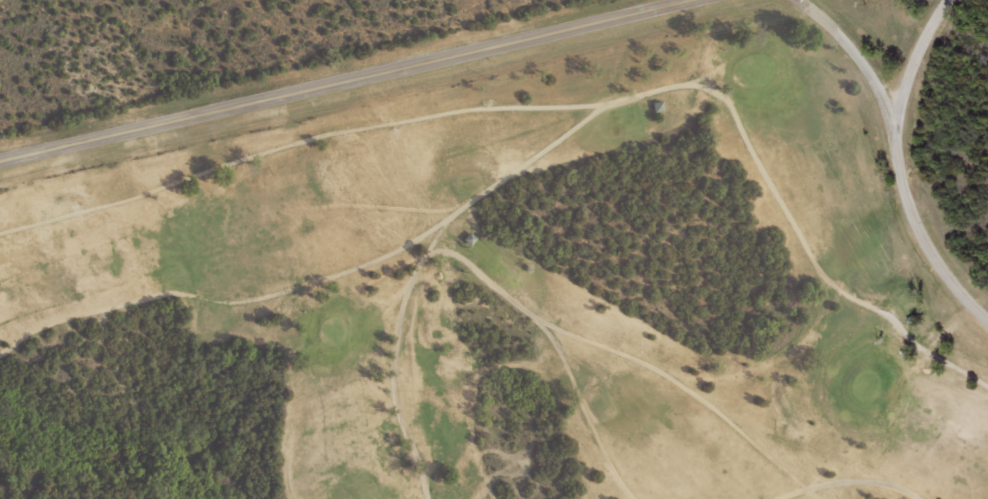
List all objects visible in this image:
road: (912, 63)
road: (346, 80)
building: (648, 106)
road: (899, 156)
building: (460, 237)
building: (906, 317)

